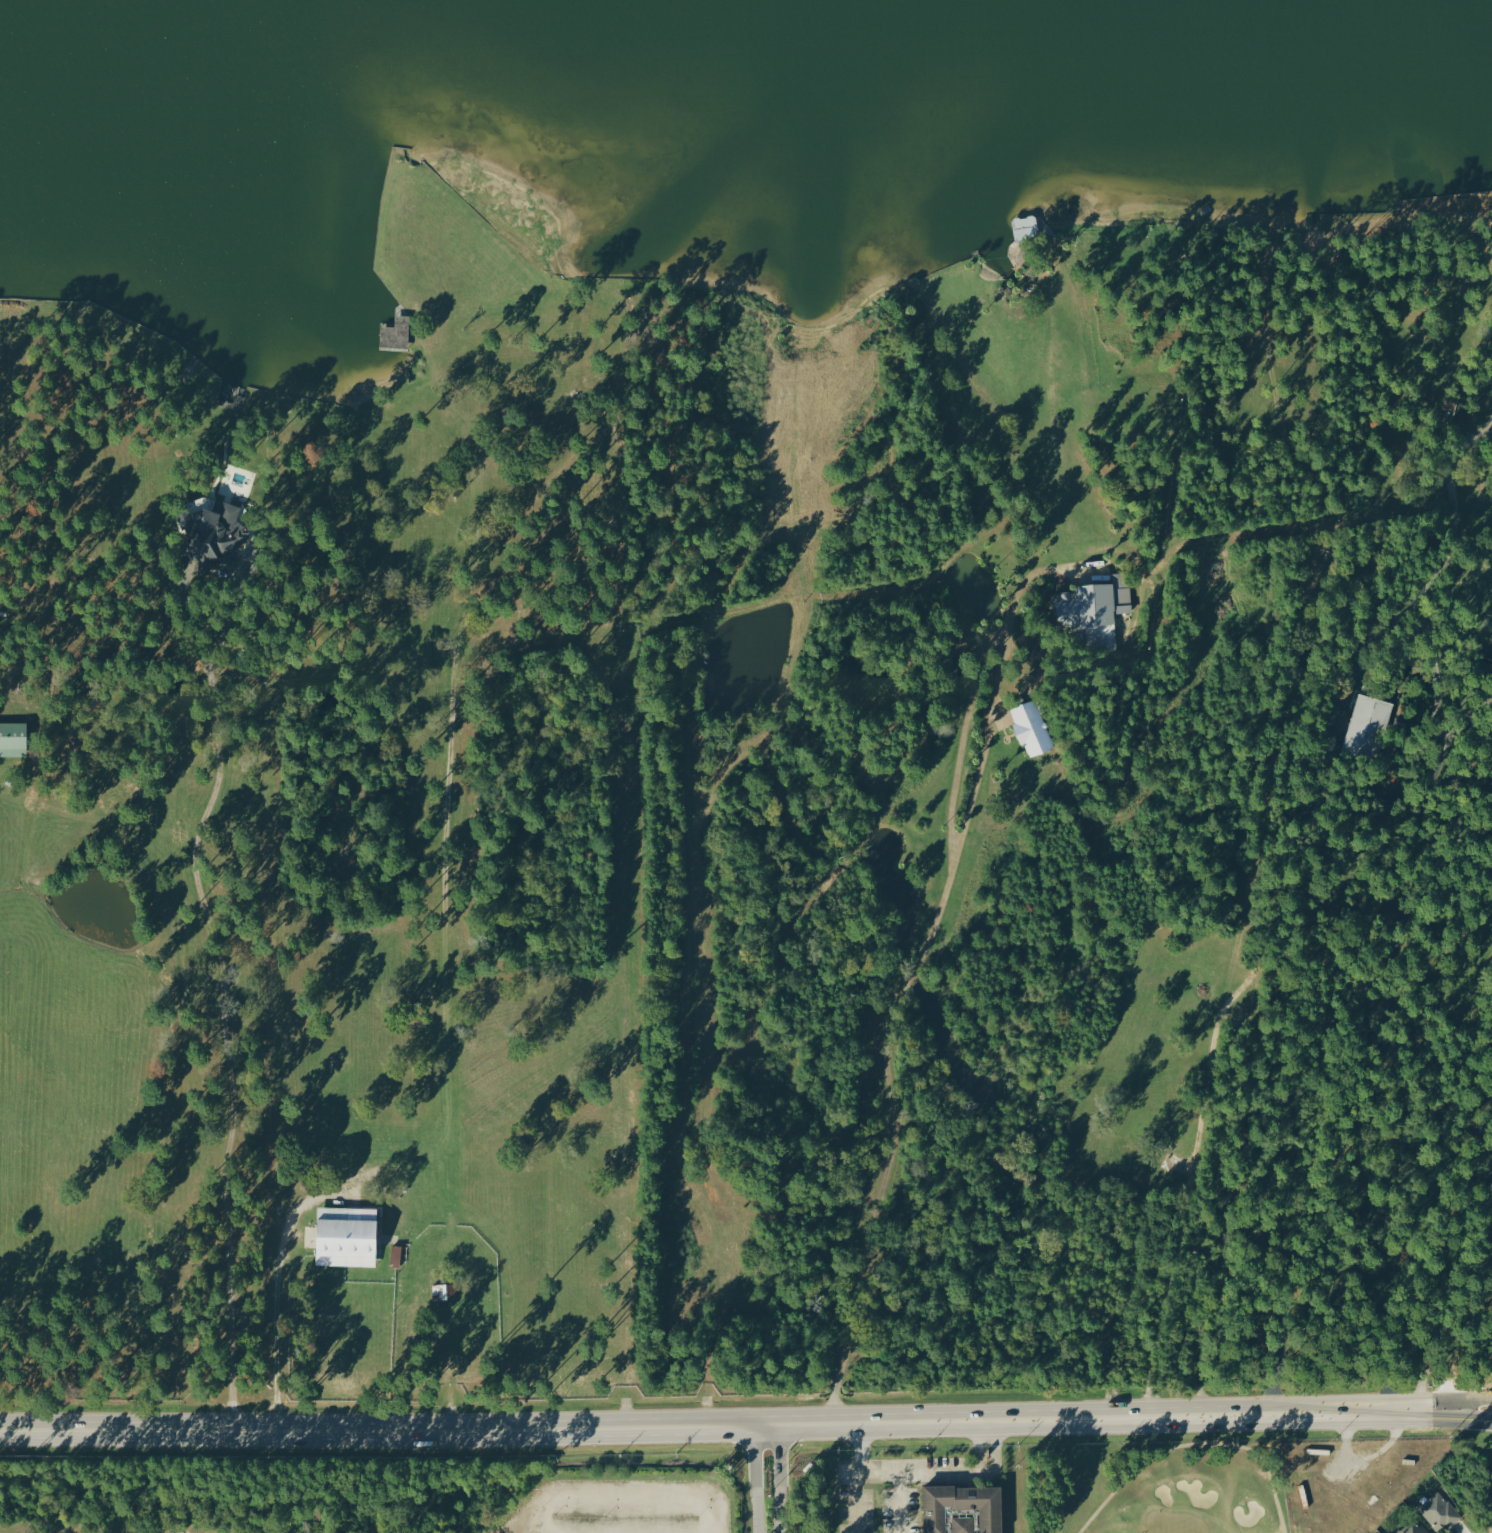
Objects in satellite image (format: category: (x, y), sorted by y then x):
building: (214, 529)
road: (1429, 575)
building: (1094, 602)
building: (1366, 724)
building: (1030, 728)
road: (1467, 730)
building: (13, 739)
road: (911, 966)
road: (219, 985)
road: (1367, 1083)
building: (347, 1235)
building: (396, 1255)
road: (284, 1313)
road: (625, 1361)
road: (555, 1362)
road: (1452, 1404)
road: (1452, 1419)
road: (706, 1421)
road: (983, 1427)
road: (978, 1456)
road: (989, 1456)
road: (856, 1475)
road: (913, 1475)
road: (769, 1476)
road: (877, 1476)
park: (1146, 1484)
building: (963, 1505)
building: (1439, 1511)
building: (963, 1524)
building: (1412, 1527)

